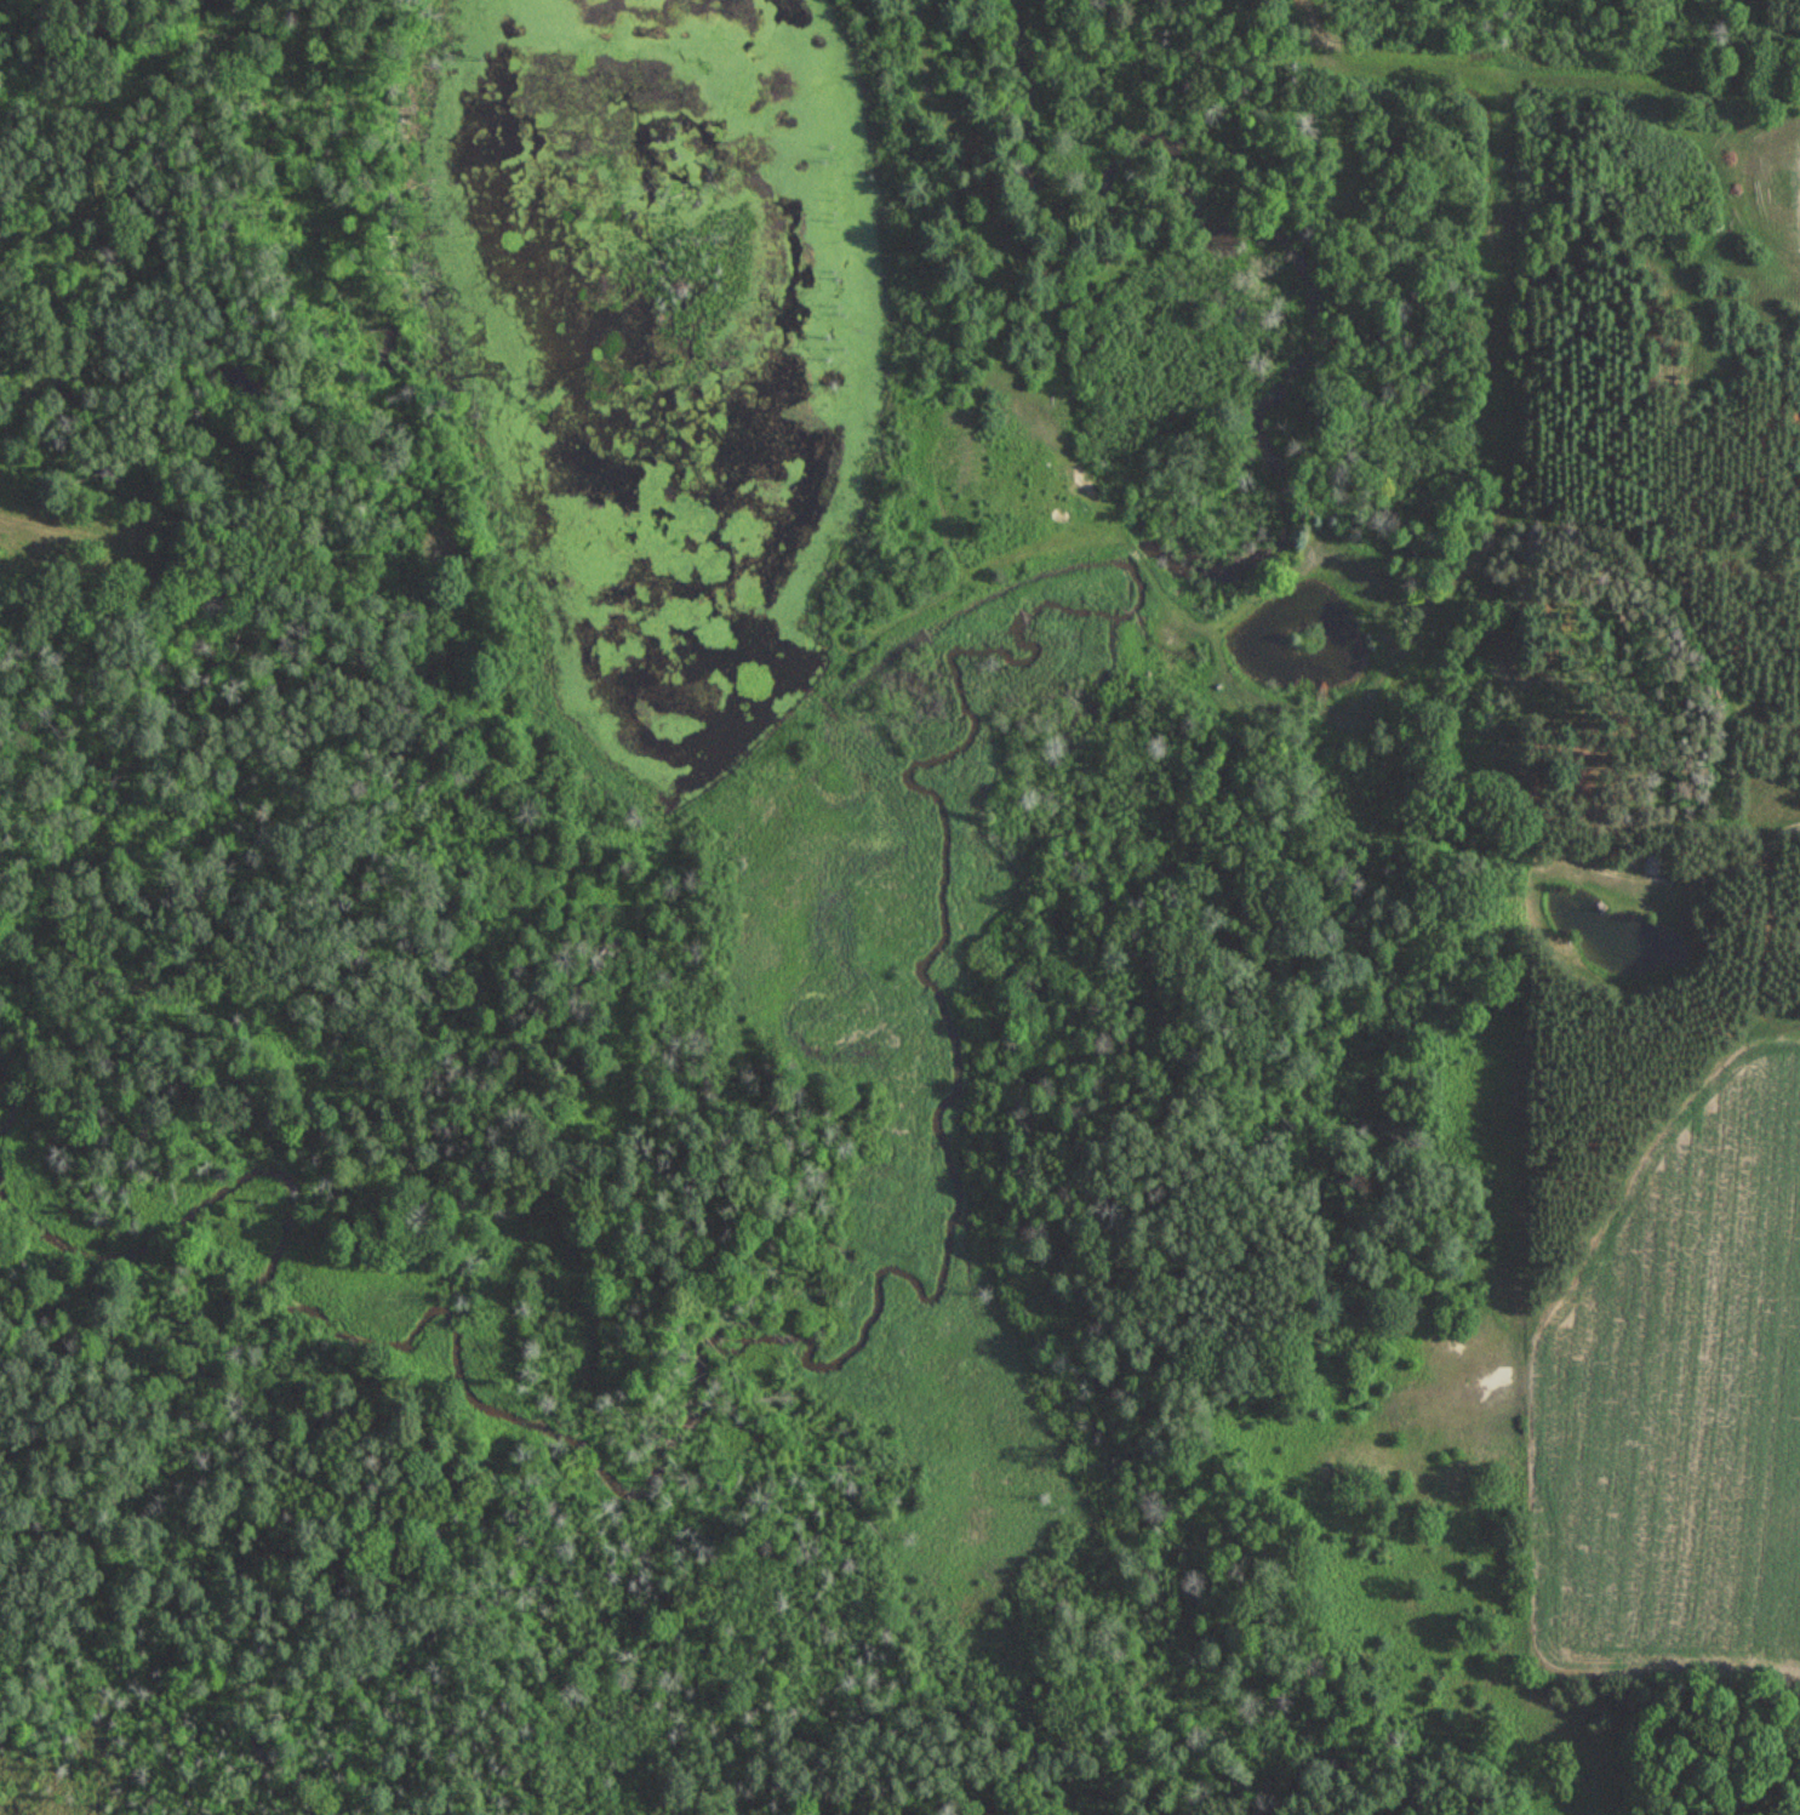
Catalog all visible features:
road: (1513, 101)

